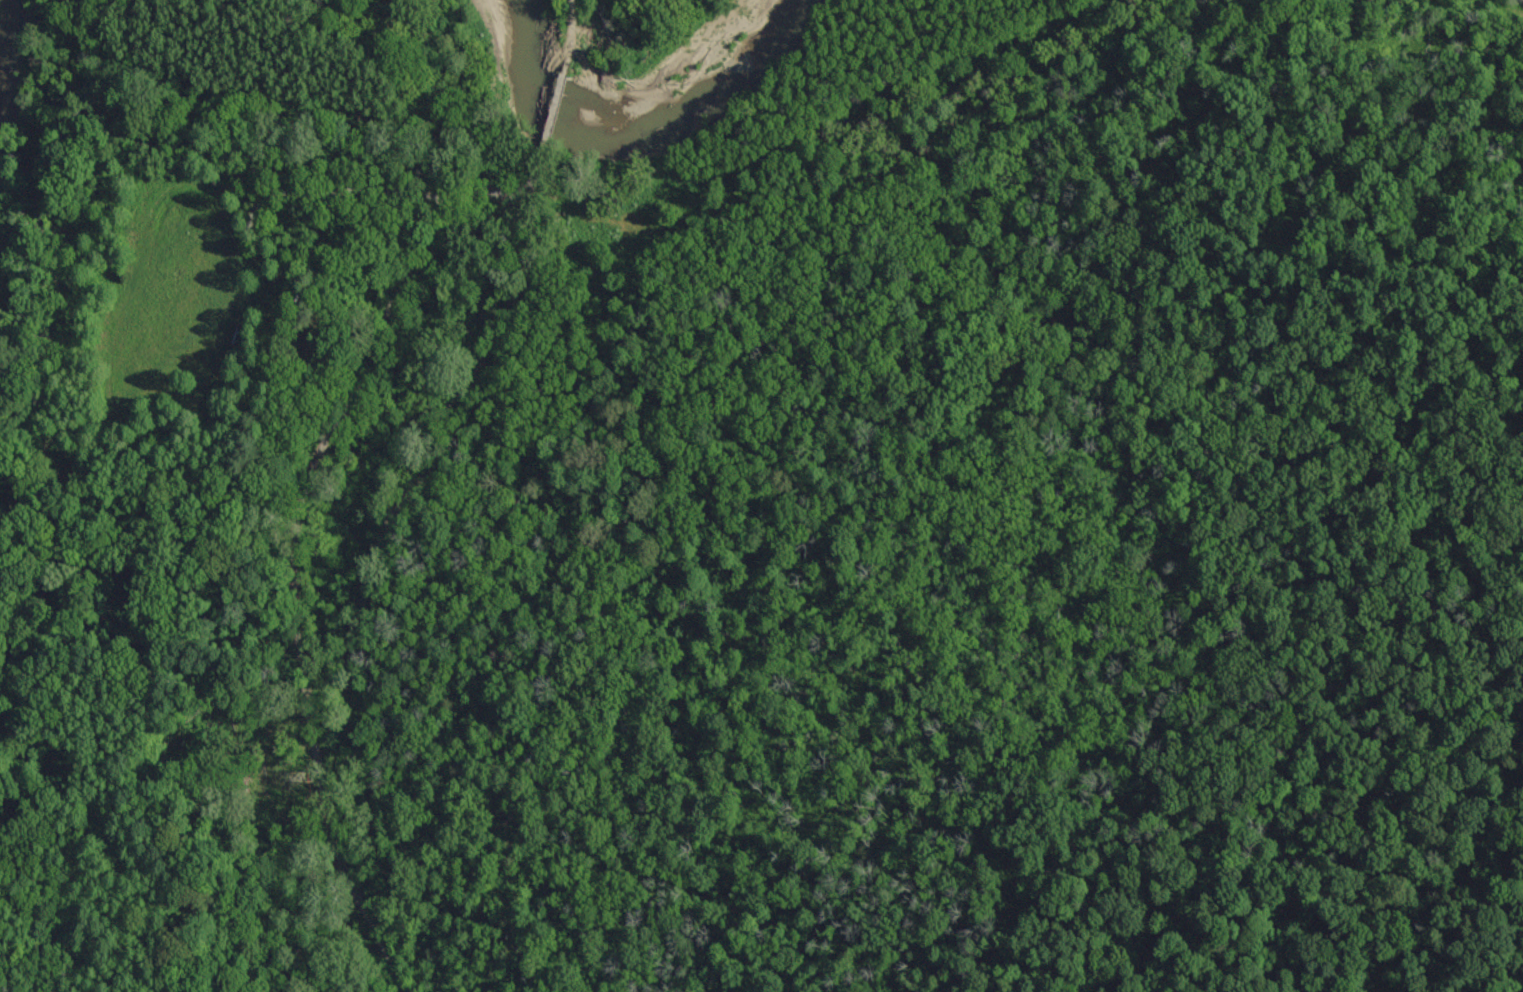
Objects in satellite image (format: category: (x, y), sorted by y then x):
road: (308, 460)

